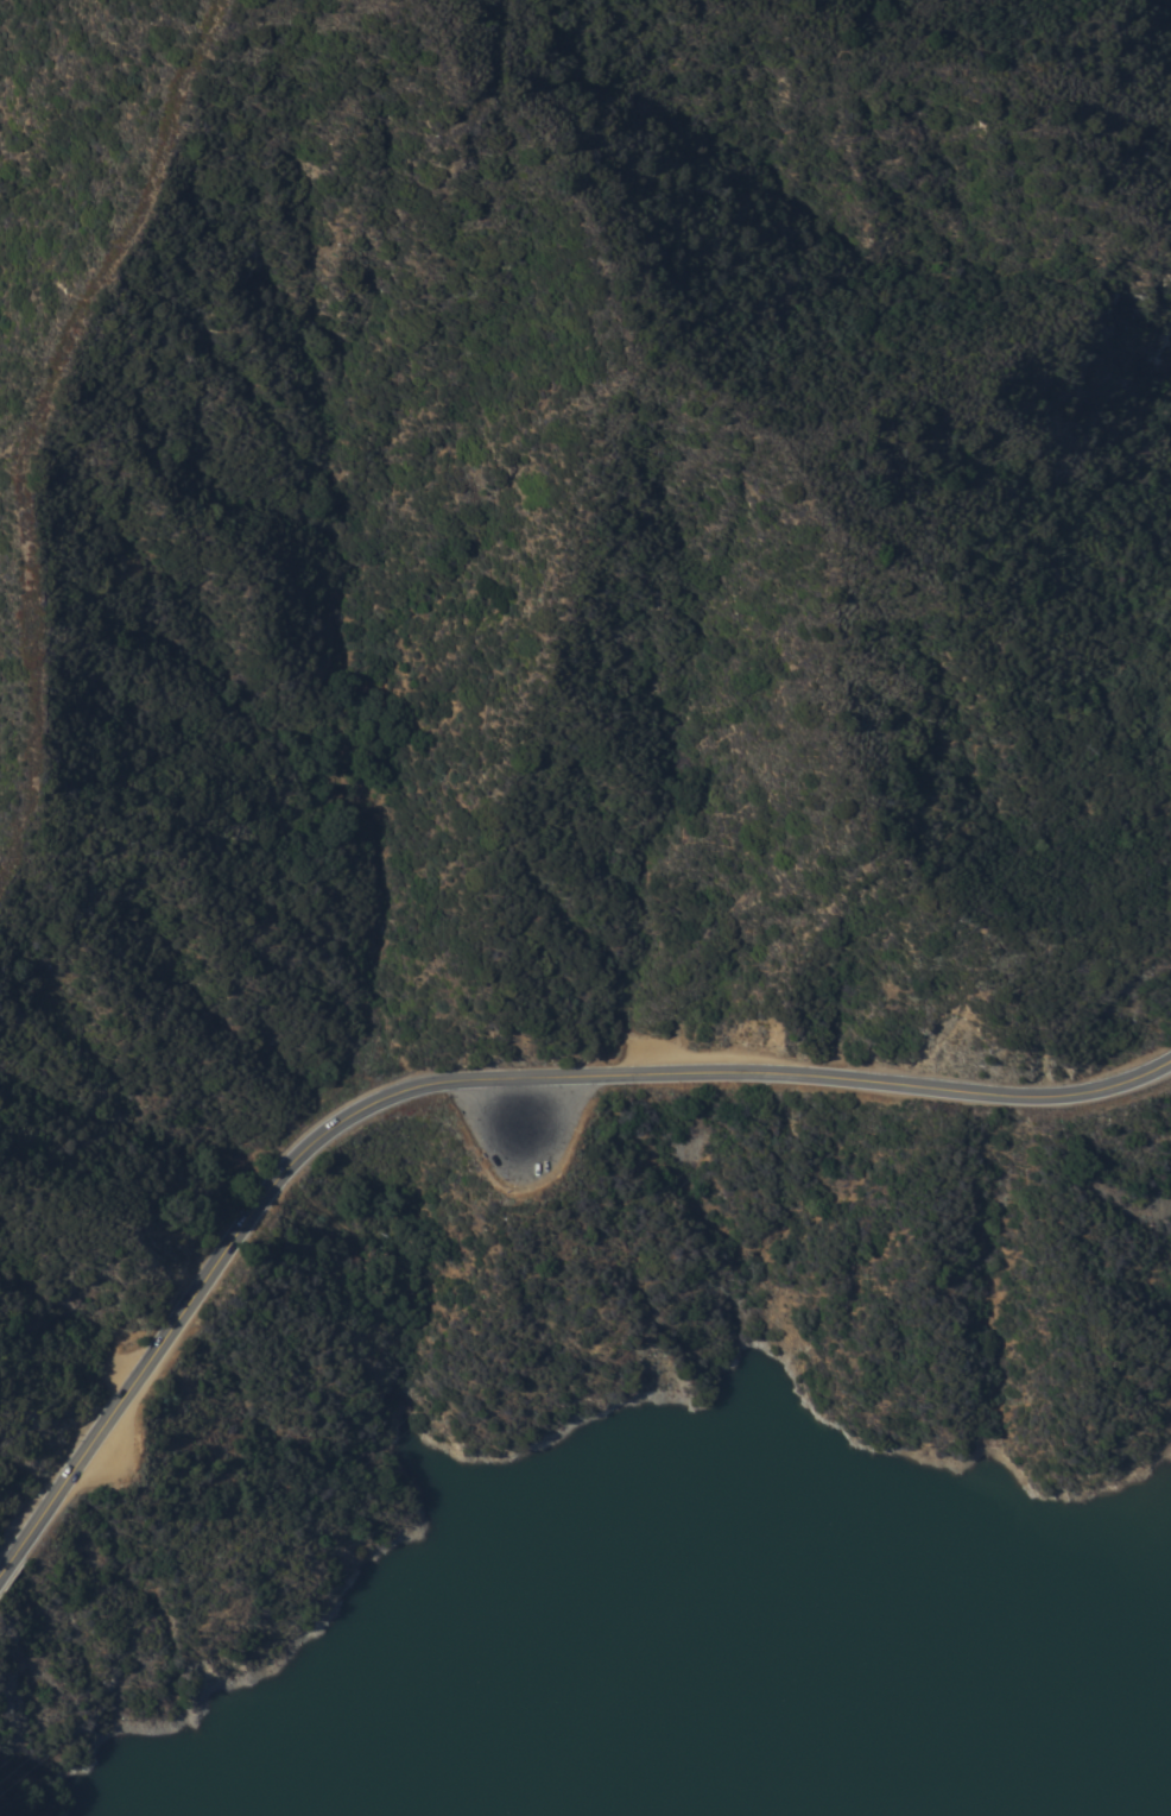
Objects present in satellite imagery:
parking lot: (677, 1054)
road: (471, 1079)
parking lot: (526, 1128)
parking lot: (112, 1455)
river: (781, 1667)
river: (403, 1751)

